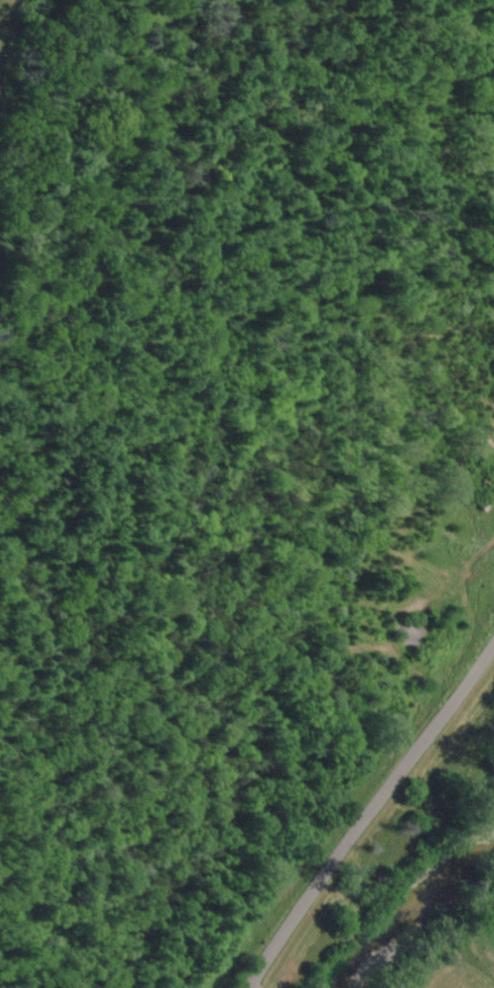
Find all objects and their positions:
road: (188, 172)
road: (344, 825)

